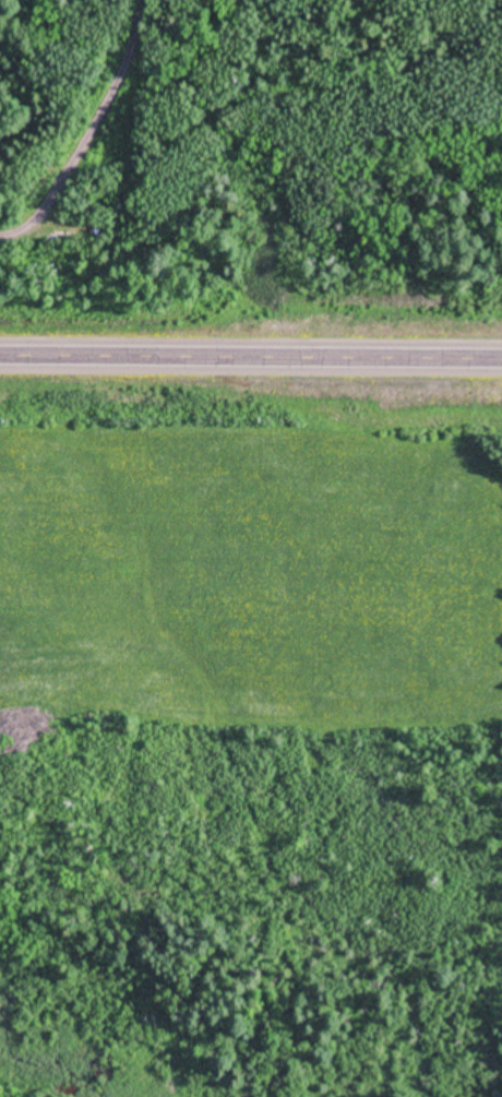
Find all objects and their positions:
road: (88, 130)
road: (251, 355)

